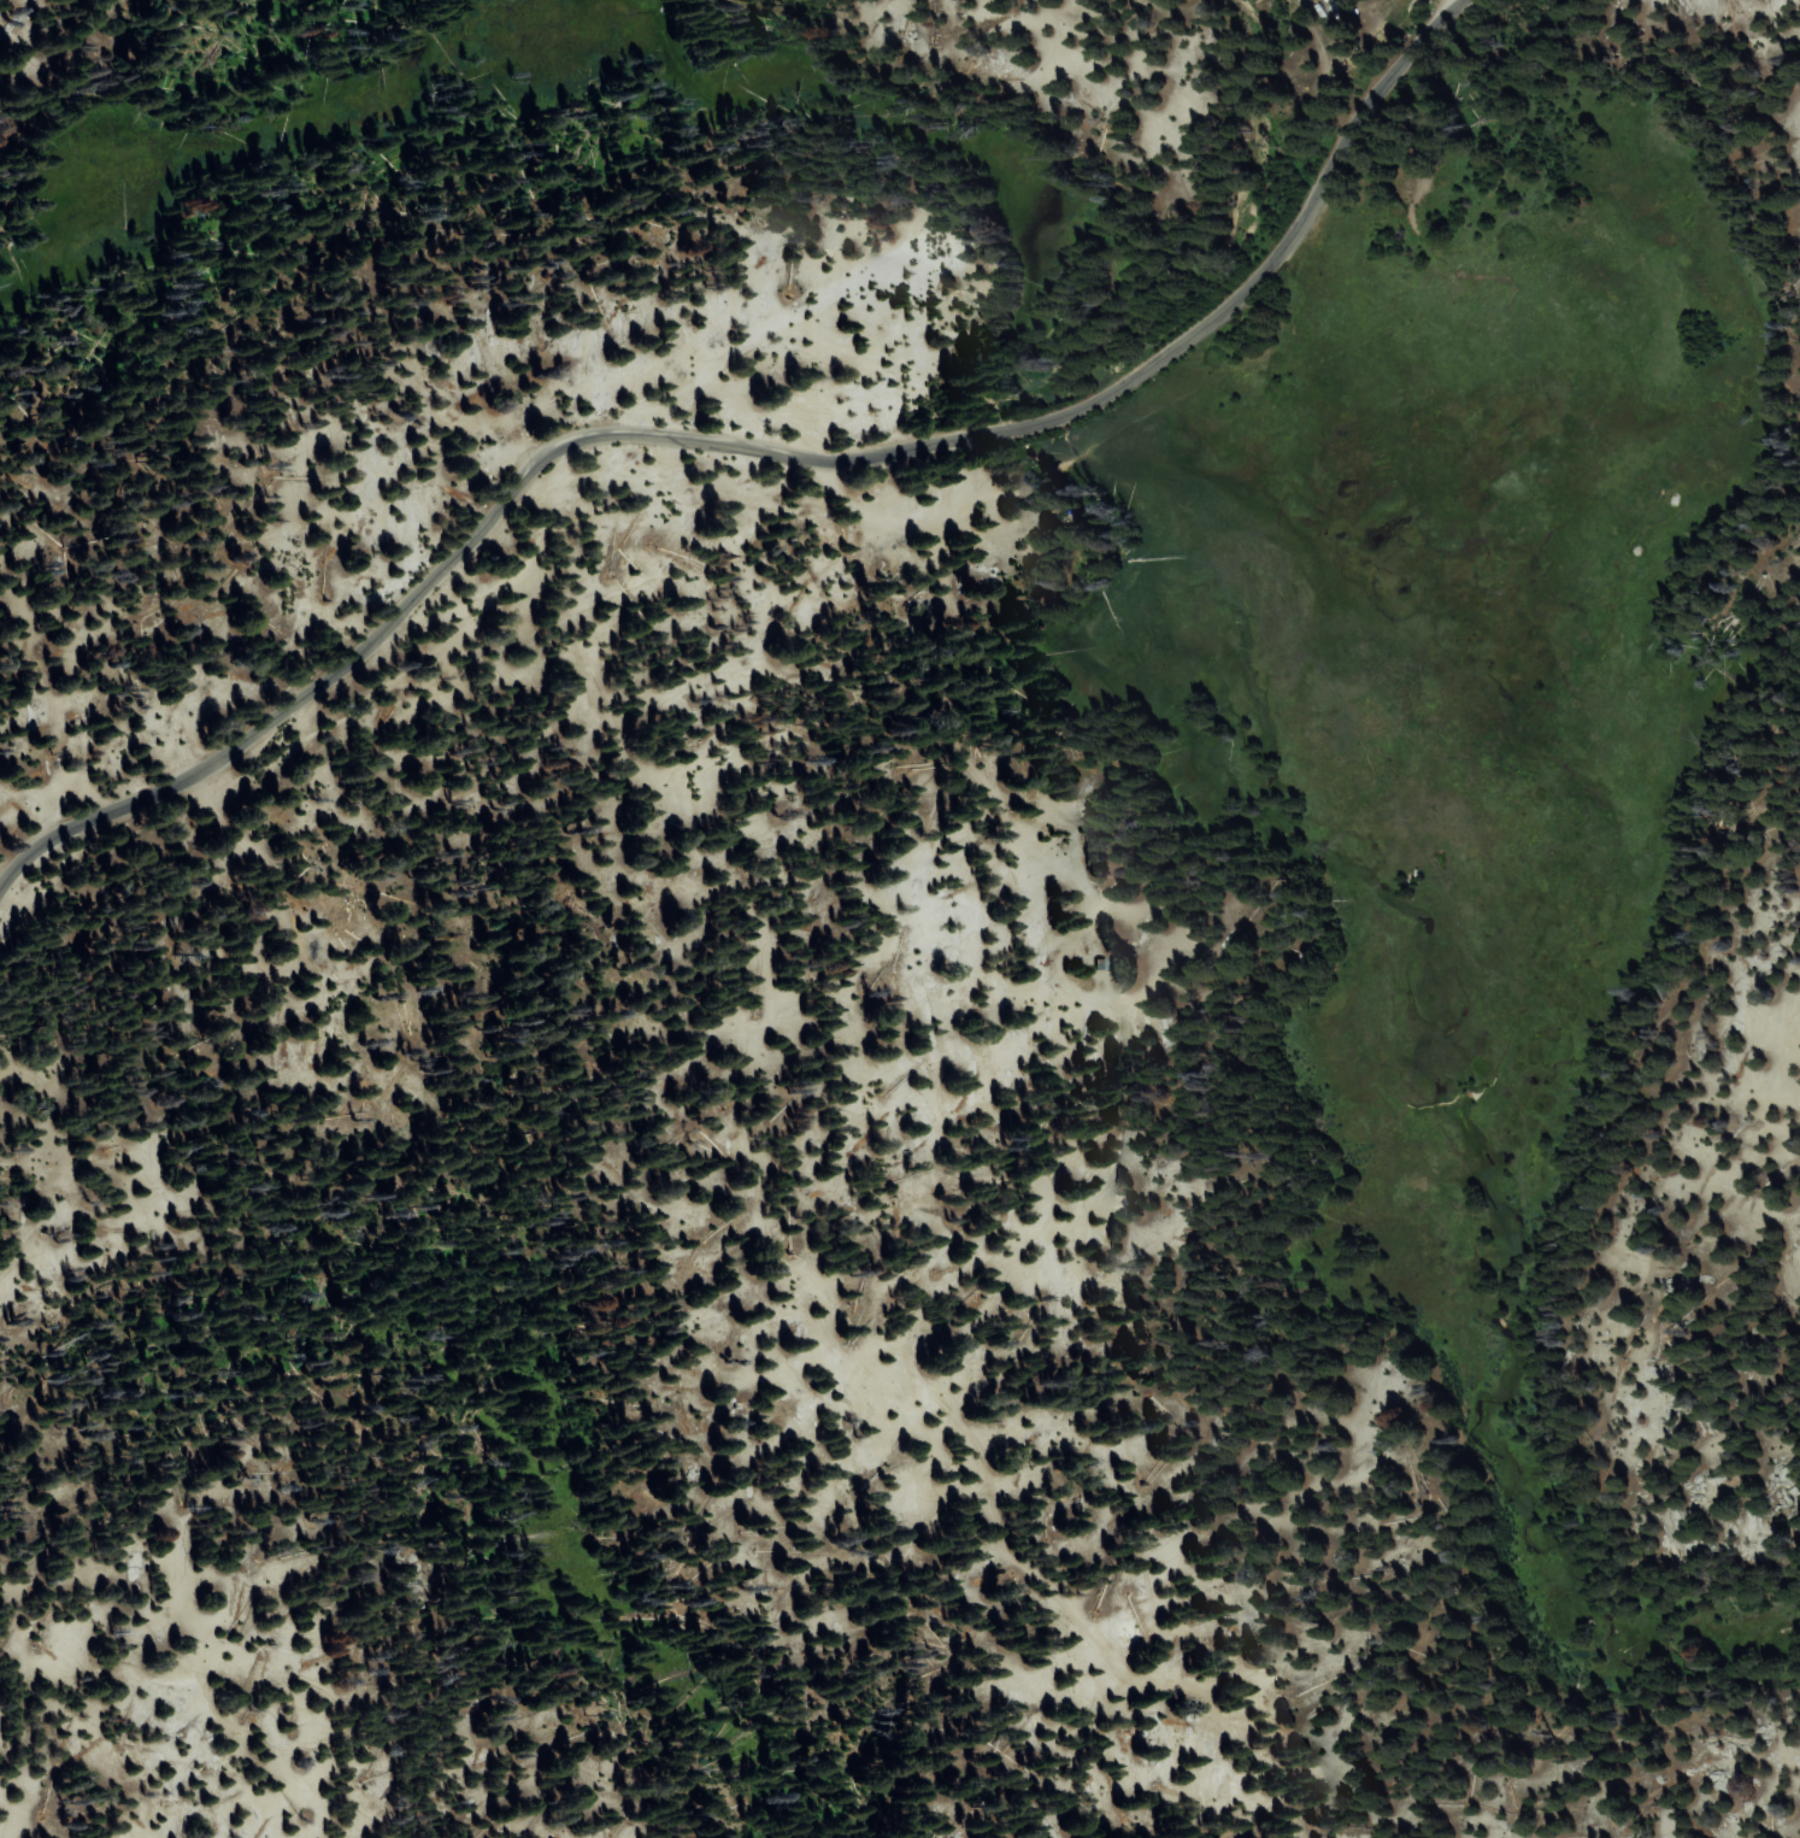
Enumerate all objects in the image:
road: (747, 450)

